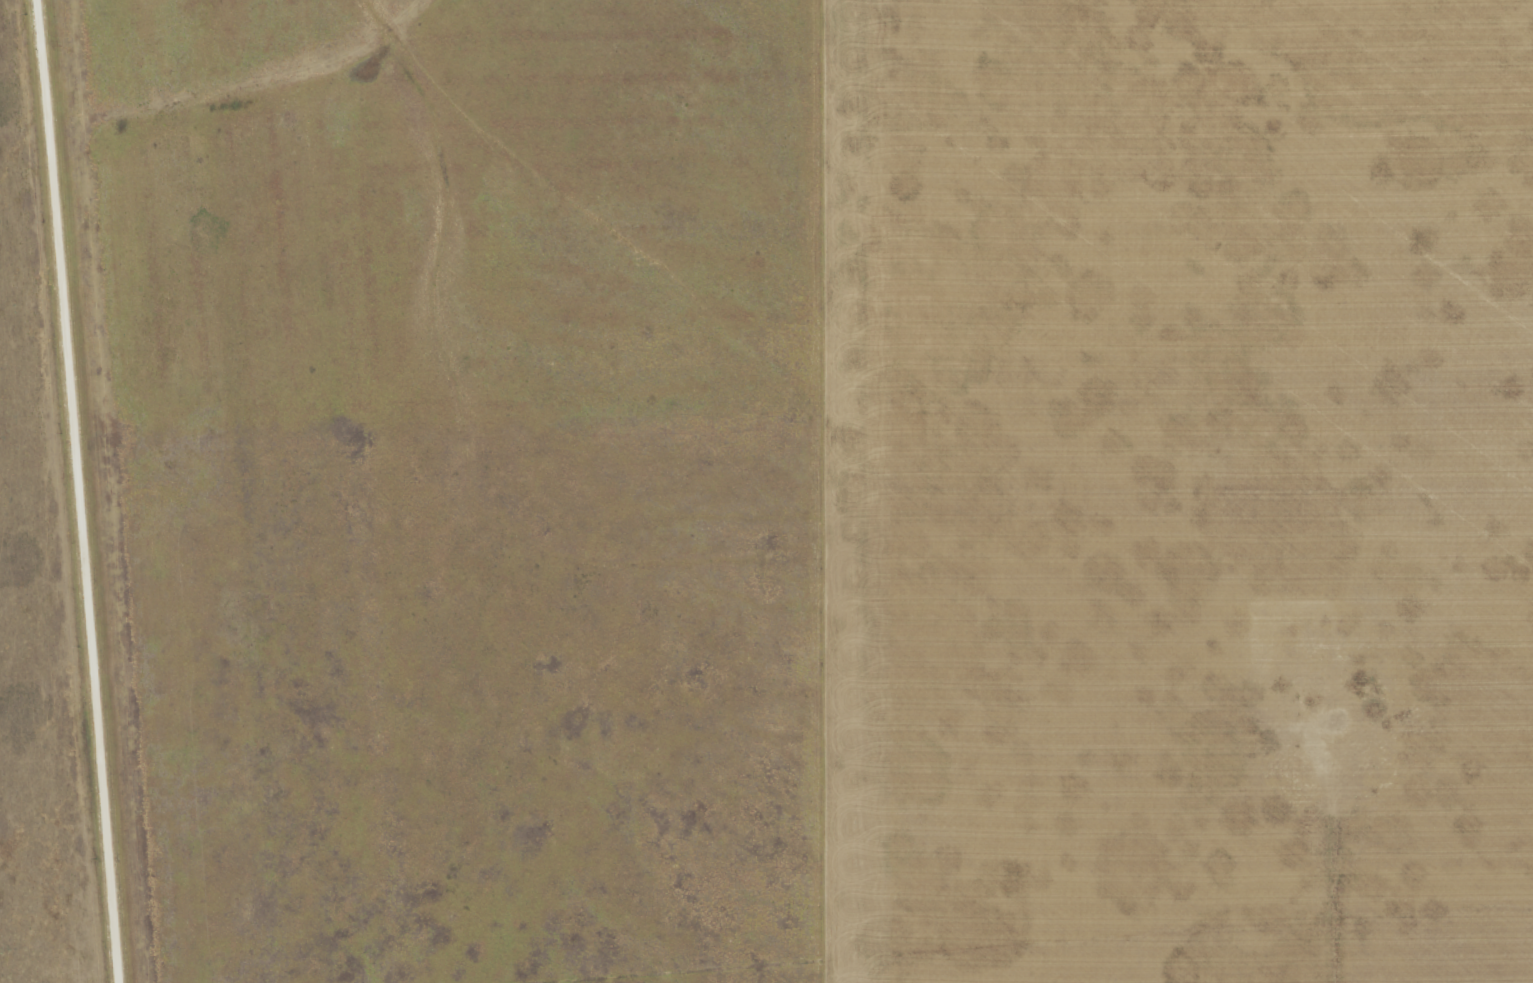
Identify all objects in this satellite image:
road: (52, 492)

